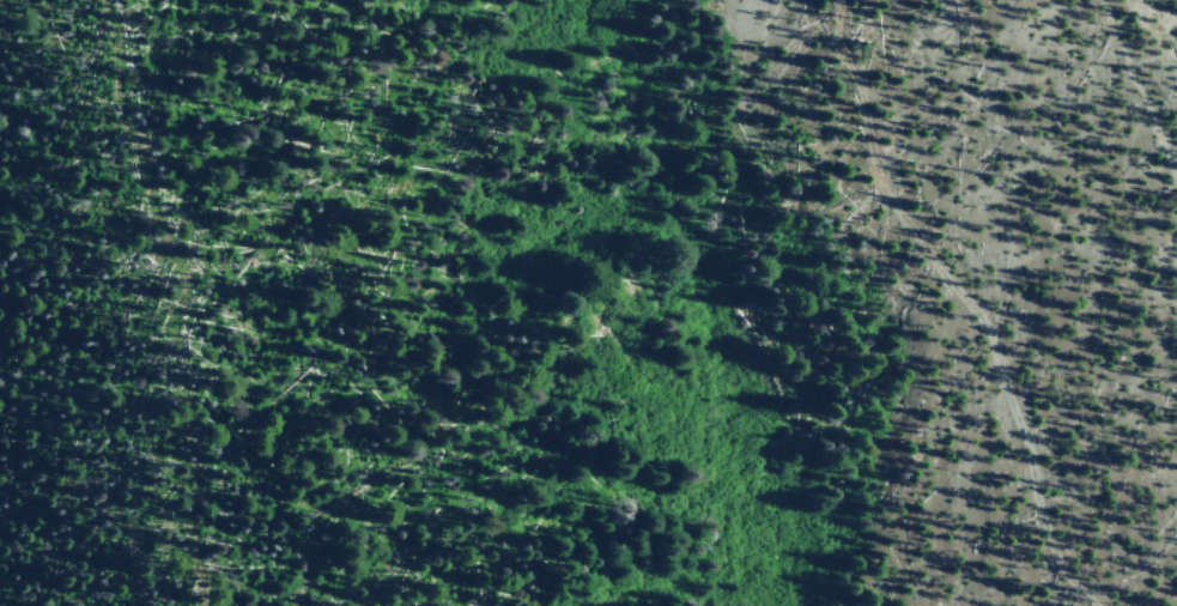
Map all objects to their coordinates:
road: (1134, 90)
road: (969, 302)

